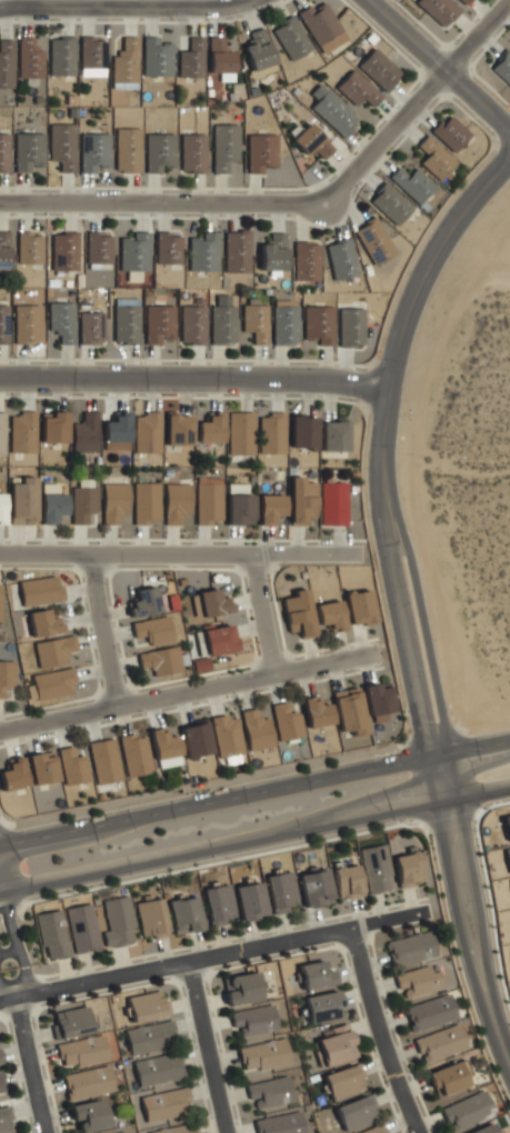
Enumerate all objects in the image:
building: (462, 1)
road: (124, 7)
building: (438, 10)
building: (321, 26)
building: (290, 38)
building: (256, 48)
building: (60, 56)
building: (91, 56)
building: (218, 57)
building: (28, 58)
building: (154, 58)
building: (190, 58)
road: (439, 62)
building: (6, 64)
building: (123, 64)
building: (502, 67)
building: (378, 69)
road: (480, 79)
building: (357, 89)
building: (332, 111)
building: (450, 133)
building: (309, 141)
building: (61, 144)
building: (222, 146)
building: (126, 150)
building: (3, 152)
building: (28, 152)
building: (93, 152)
building: (159, 152)
building: (260, 152)
building: (191, 153)
building: (433, 159)
building: (411, 184)
road: (298, 201)
building: (389, 204)
building: (373, 241)
building: (29, 247)
building: (98, 248)
building: (3, 249)
building: (167, 249)
building: (63, 251)
building: (236, 251)
building: (131, 252)
building: (201, 252)
building: (272, 253)
building: (340, 259)
building: (304, 262)
building: (60, 320)
building: (124, 321)
building: (254, 322)
building: (3, 323)
building: (26, 323)
building: (158, 324)
building: (191, 324)
building: (221, 324)
building: (284, 324)
building: (317, 324)
building: (350, 327)
building: (90, 328)
road: (193, 378)
building: (51, 428)
building: (209, 429)
building: (177, 430)
building: (21, 432)
building: (146, 432)
building: (83, 433)
building: (114, 433)
building: (270, 433)
building: (301, 433)
building: (1, 434)
building: (239, 434)
building: (332, 437)
road: (379, 452)
building: (21, 499)
building: (209, 500)
building: (300, 500)
building: (82, 501)
building: (112, 501)
building: (176, 501)
building: (144, 503)
building: (331, 503)
building: (50, 505)
building: (1, 508)
building: (239, 508)
building: (270, 509)
road: (176, 555)
building: (39, 590)
building: (142, 601)
building: (209, 603)
building: (0, 606)
building: (358, 606)
building: (297, 611)
road: (259, 614)
building: (330, 614)
building: (41, 622)
building: (151, 630)
road: (100, 631)
building: (217, 639)
building: (51, 650)
building: (159, 660)
building: (7, 679)
building: (50, 683)
road: (184, 691)
building: (377, 698)
building: (348, 711)
building: (314, 712)
building: (286, 722)
building: (256, 730)
building: (226, 738)
building: (194, 739)
building: (162, 743)
building: (134, 753)
building: (103, 761)
building: (41, 766)
building: (71, 766)
building: (13, 774)
road: (217, 780)
road: (254, 791)
road: (254, 835)
building: (407, 866)
building: (376, 869)
building: (346, 880)
building: (313, 886)
building: (280, 891)
building: (249, 900)
building: (218, 904)
building: (183, 914)
building: (150, 918)
road: (470, 918)
building: (118, 921)
building: (81, 928)
building: (51, 934)
road: (16, 942)
building: (409, 947)
road: (9, 951)
road: (213, 956)
building: (314, 974)
building: (417, 980)
building: (240, 987)
road: (7, 992)
building: (147, 1005)
building: (321, 1005)
building: (429, 1011)
building: (252, 1019)
building: (70, 1021)
road: (382, 1031)
building: (149, 1036)
building: (438, 1042)
building: (334, 1045)
road: (210, 1047)
building: (80, 1051)
building: (262, 1054)
road: (28, 1065)
building: (157, 1069)
building: (447, 1076)
building: (344, 1081)
building: (86, 1082)
building: (1, 1086)
building: (268, 1092)
building: (164, 1104)
building: (466, 1111)
building: (356, 1112)
building: (87, 1114)
building: (4, 1120)
building: (278, 1123)
building: (174, 1129)
building: (484, 1129)
building: (373, 1130)
building: (120, 1132)

